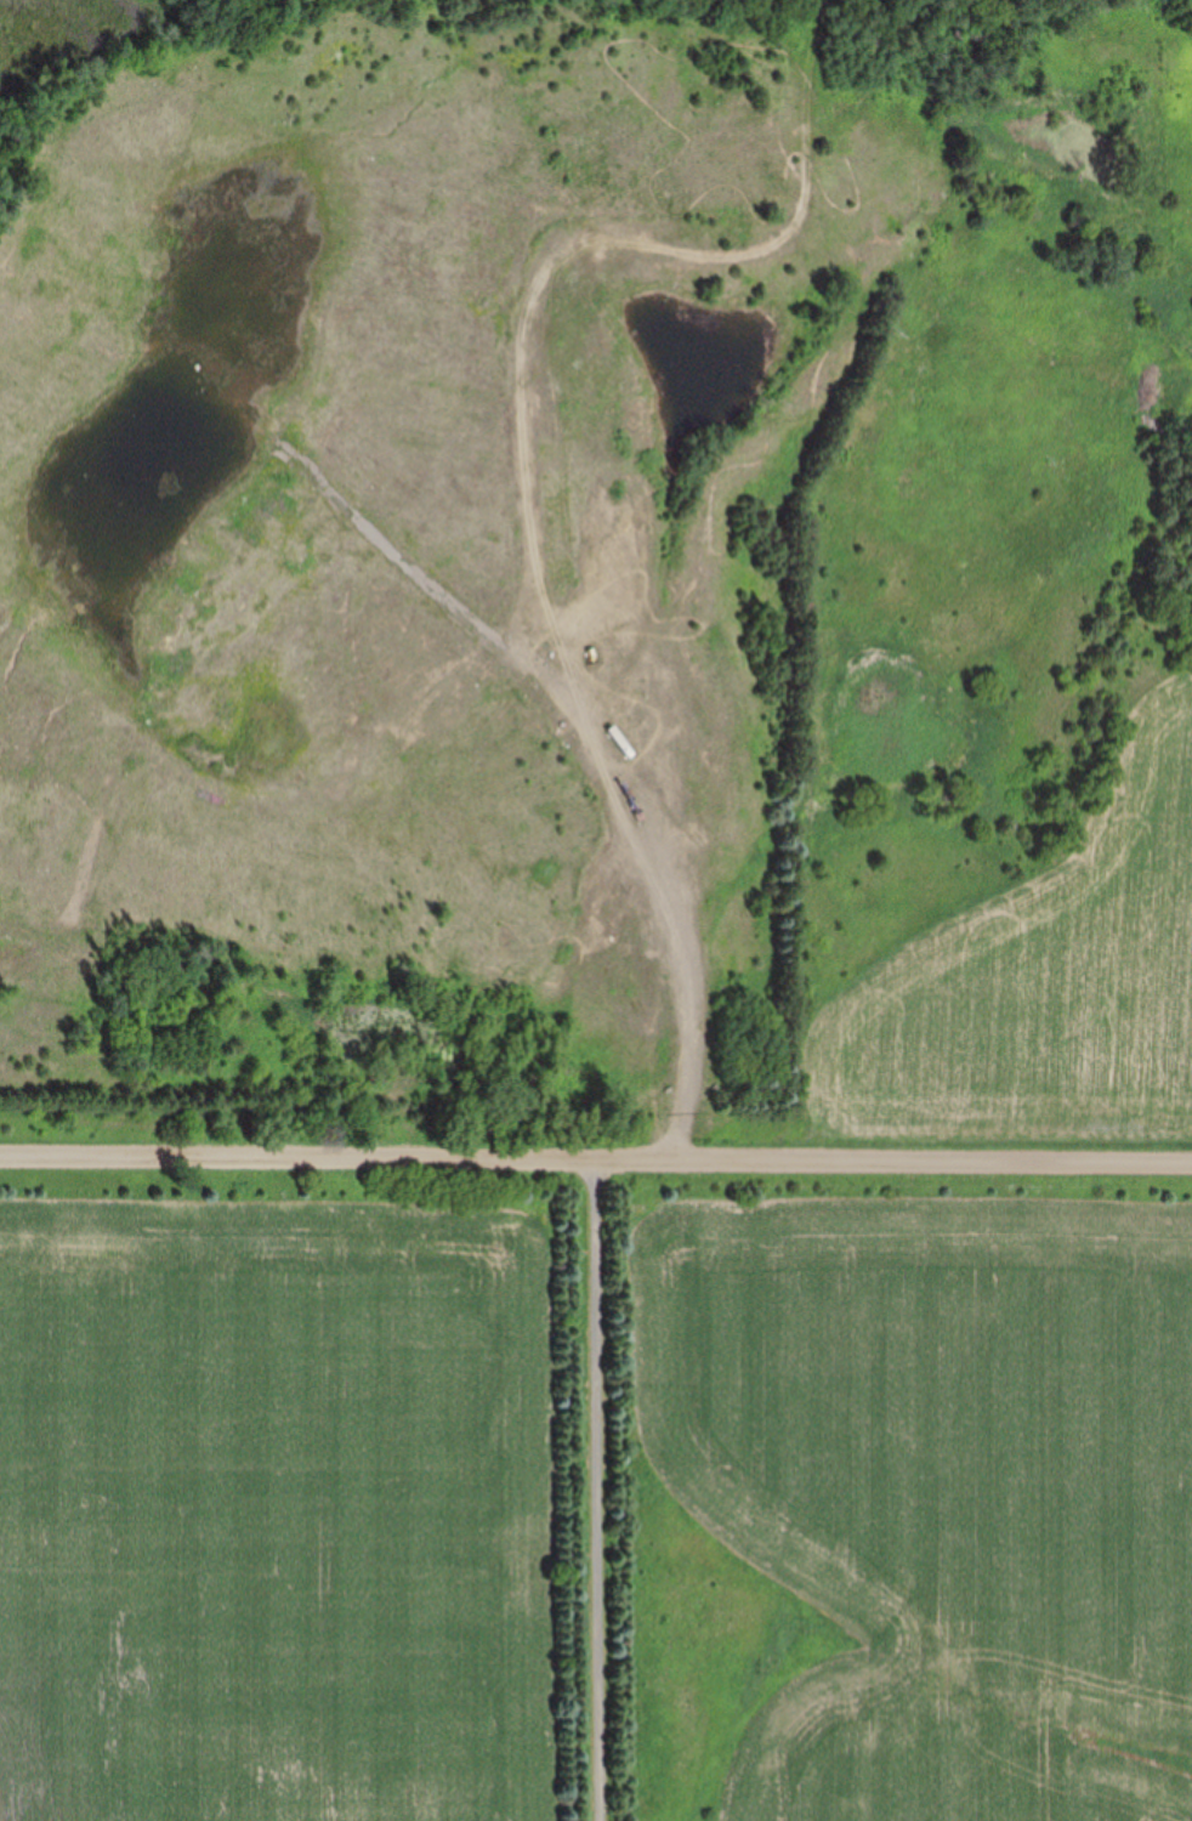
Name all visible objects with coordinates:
road: (596, 1161)
road: (600, 1491)

